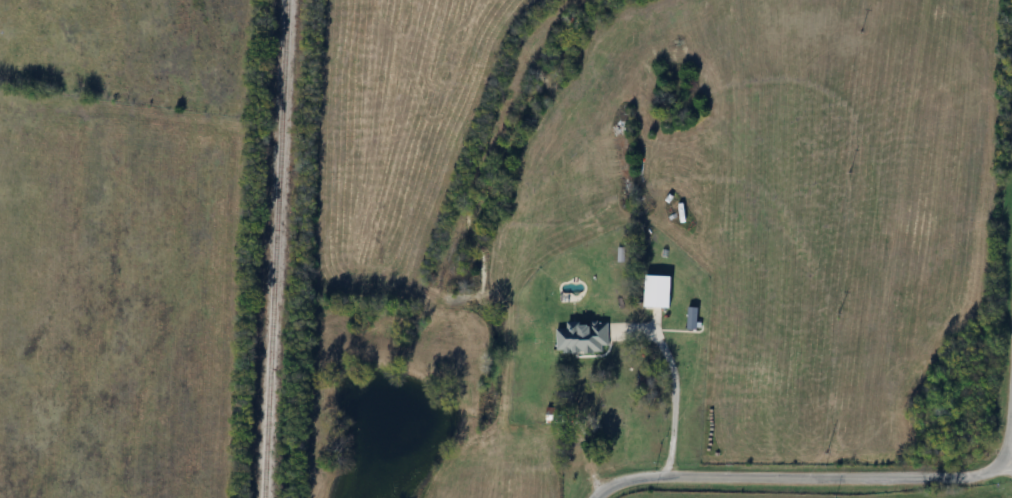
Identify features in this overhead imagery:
railway: (274, 249)
building: (660, 292)
building: (596, 339)
road: (676, 385)
building: (611, 419)
road: (1007, 454)
road: (1004, 467)
road: (853, 477)

